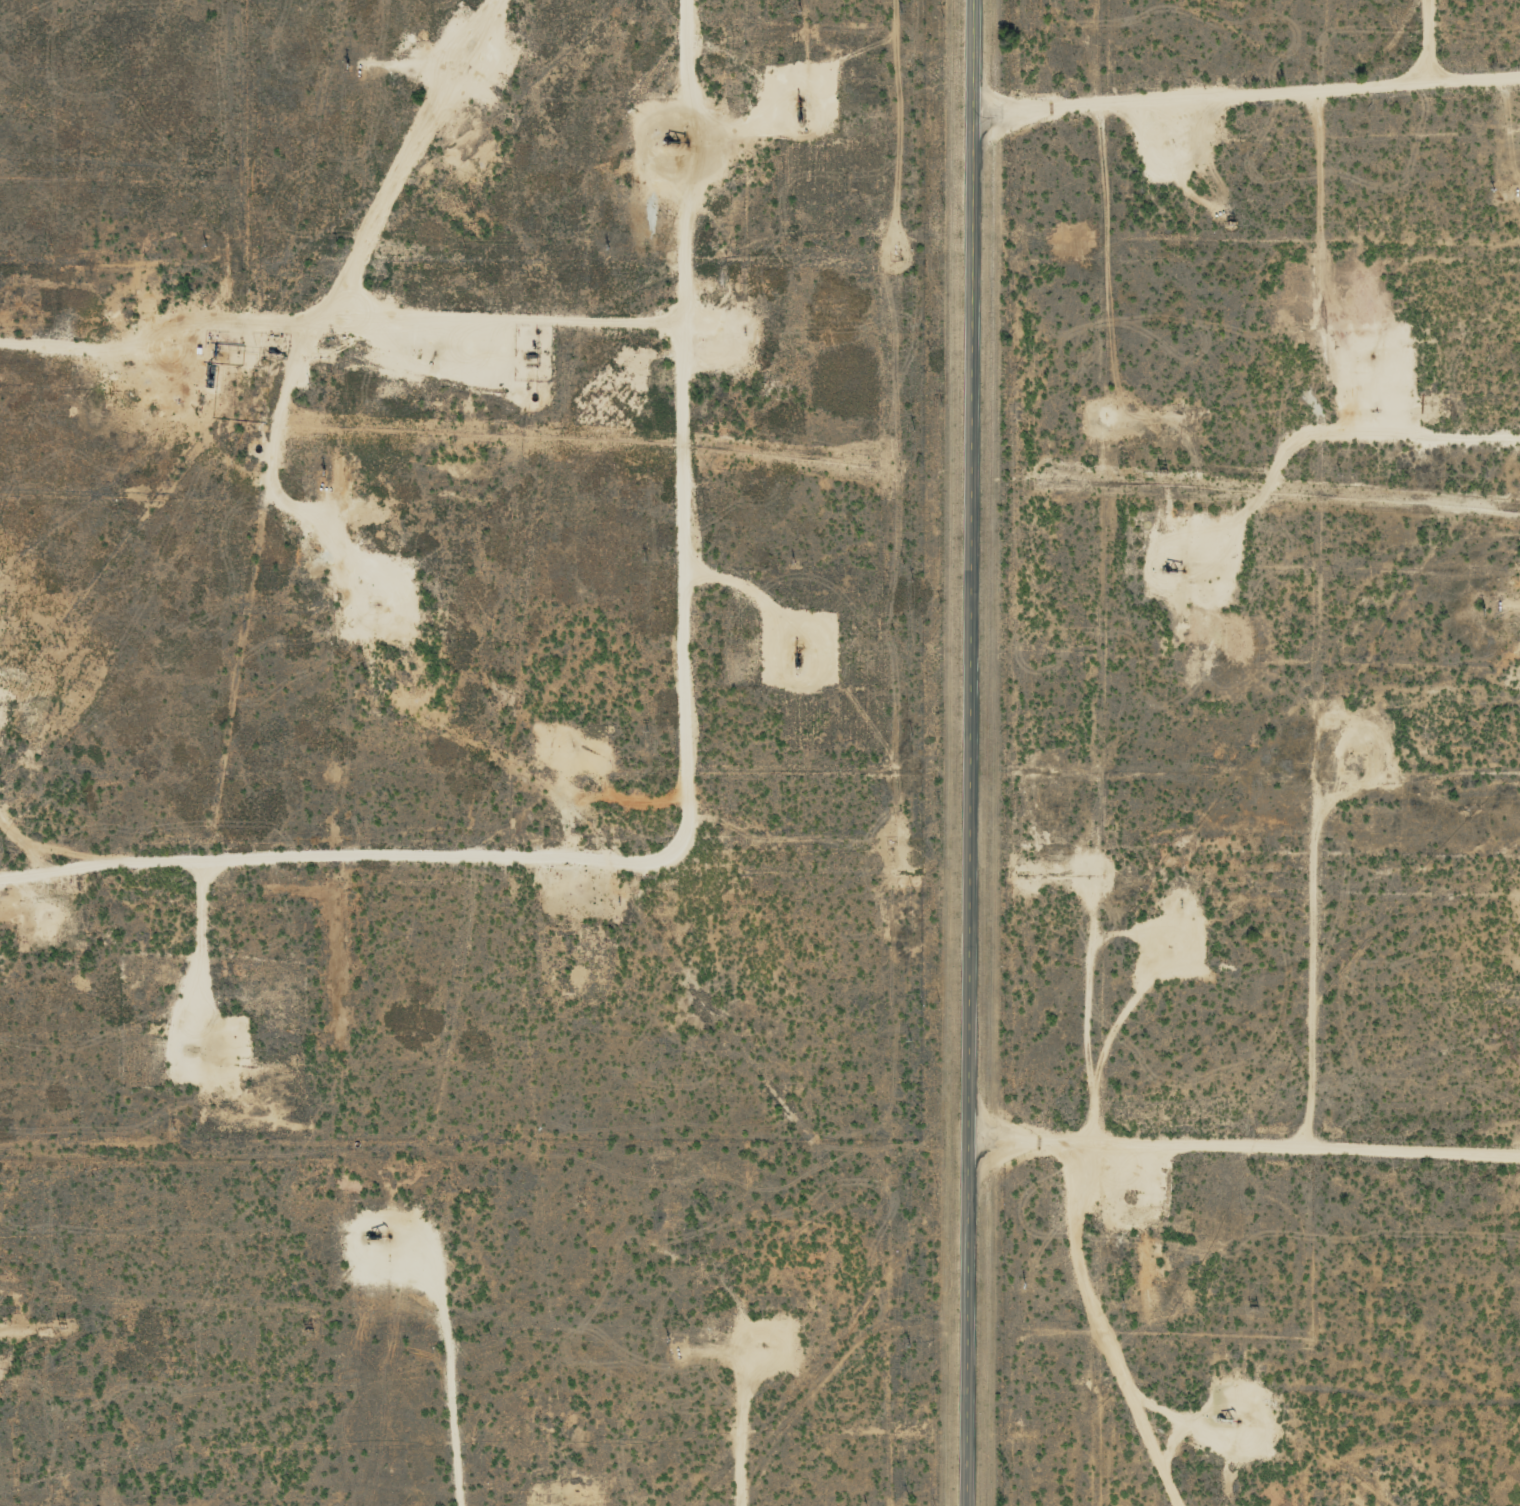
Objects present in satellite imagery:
road: (1245, 65)
road: (303, 398)
road: (688, 752)
road: (968, 752)
road: (1243, 1109)
road: (1101, 1314)

